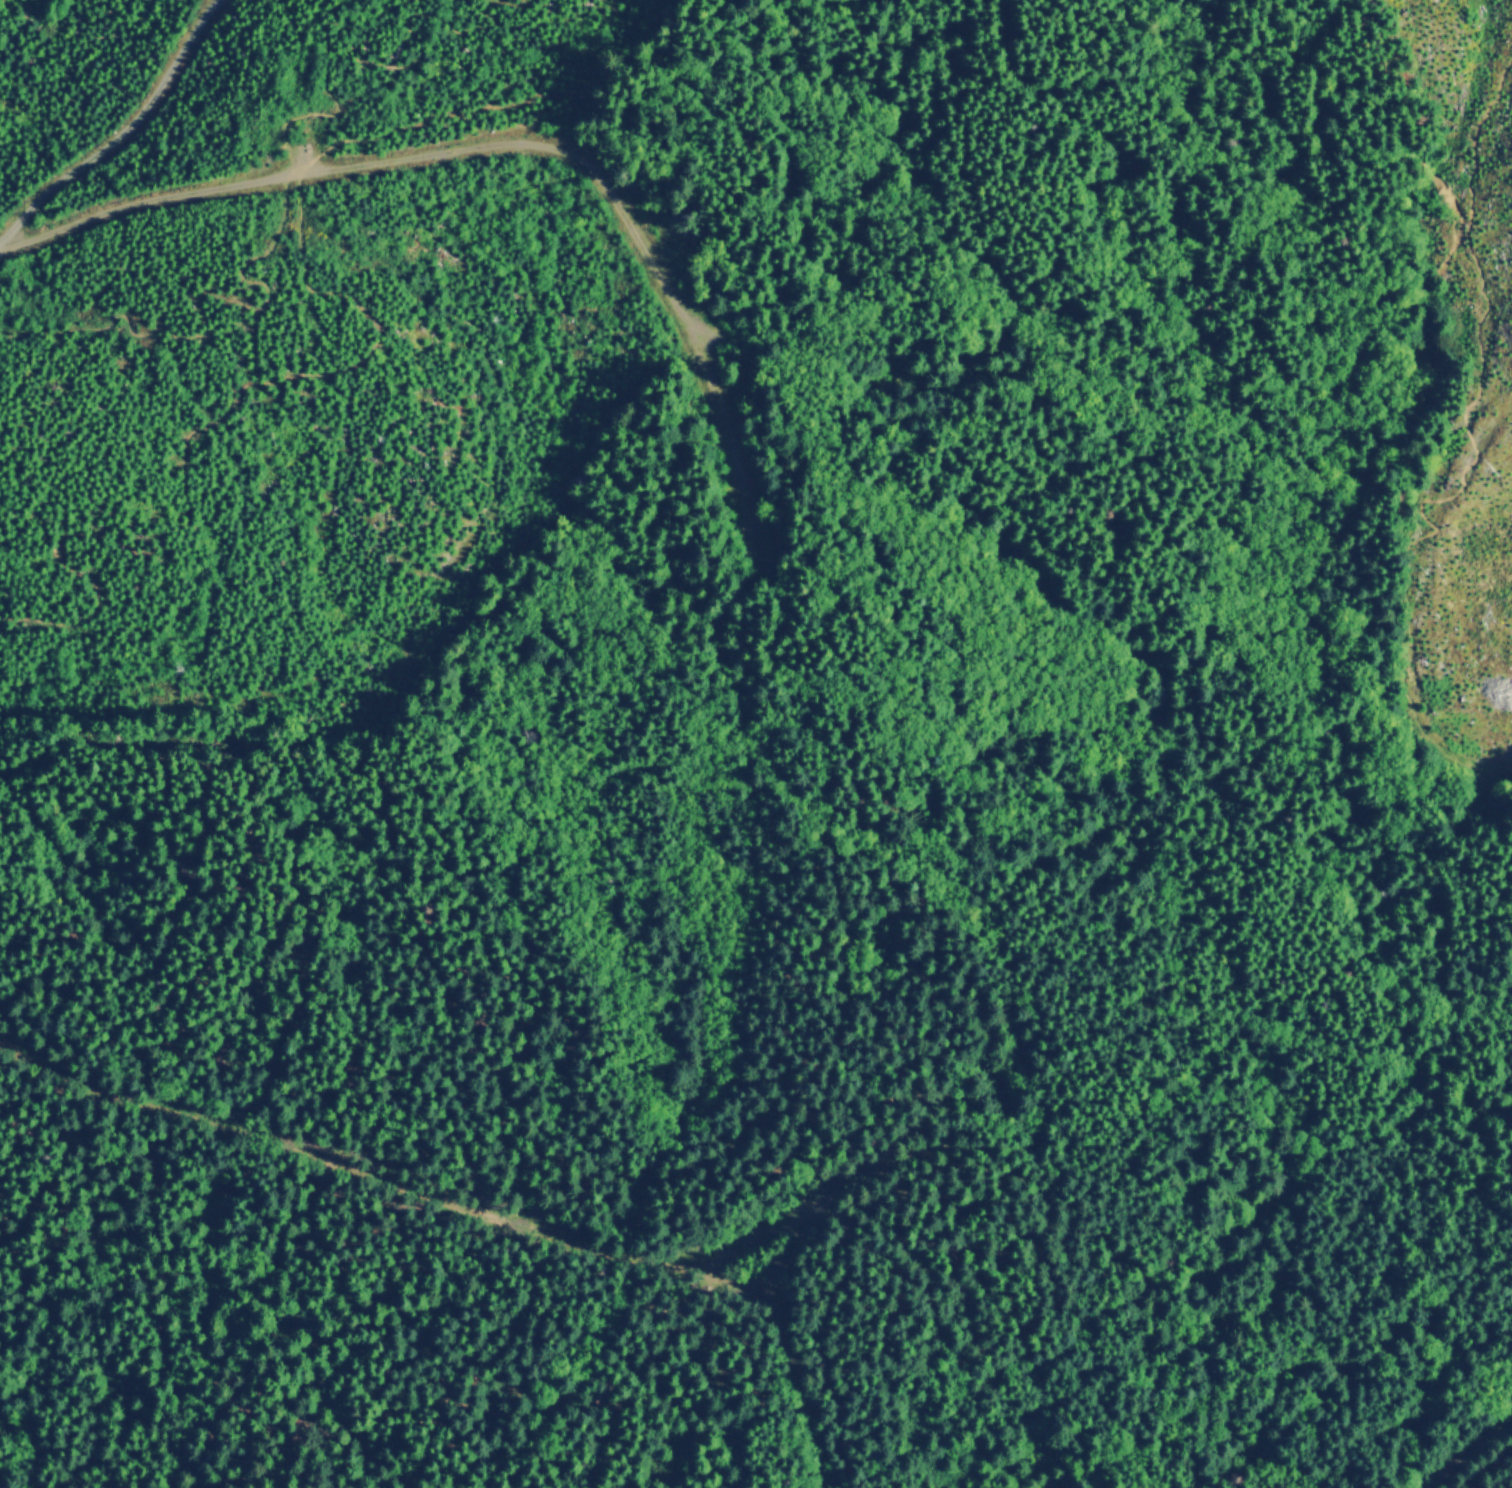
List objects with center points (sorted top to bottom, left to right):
road: (504, 13)
road: (570, 87)
road: (120, 131)
road: (505, 143)
road: (280, 212)
road: (1490, 394)
road: (198, 441)
road: (1029, 474)
road: (1432, 750)
road: (1371, 1086)
road: (1476, 1457)

